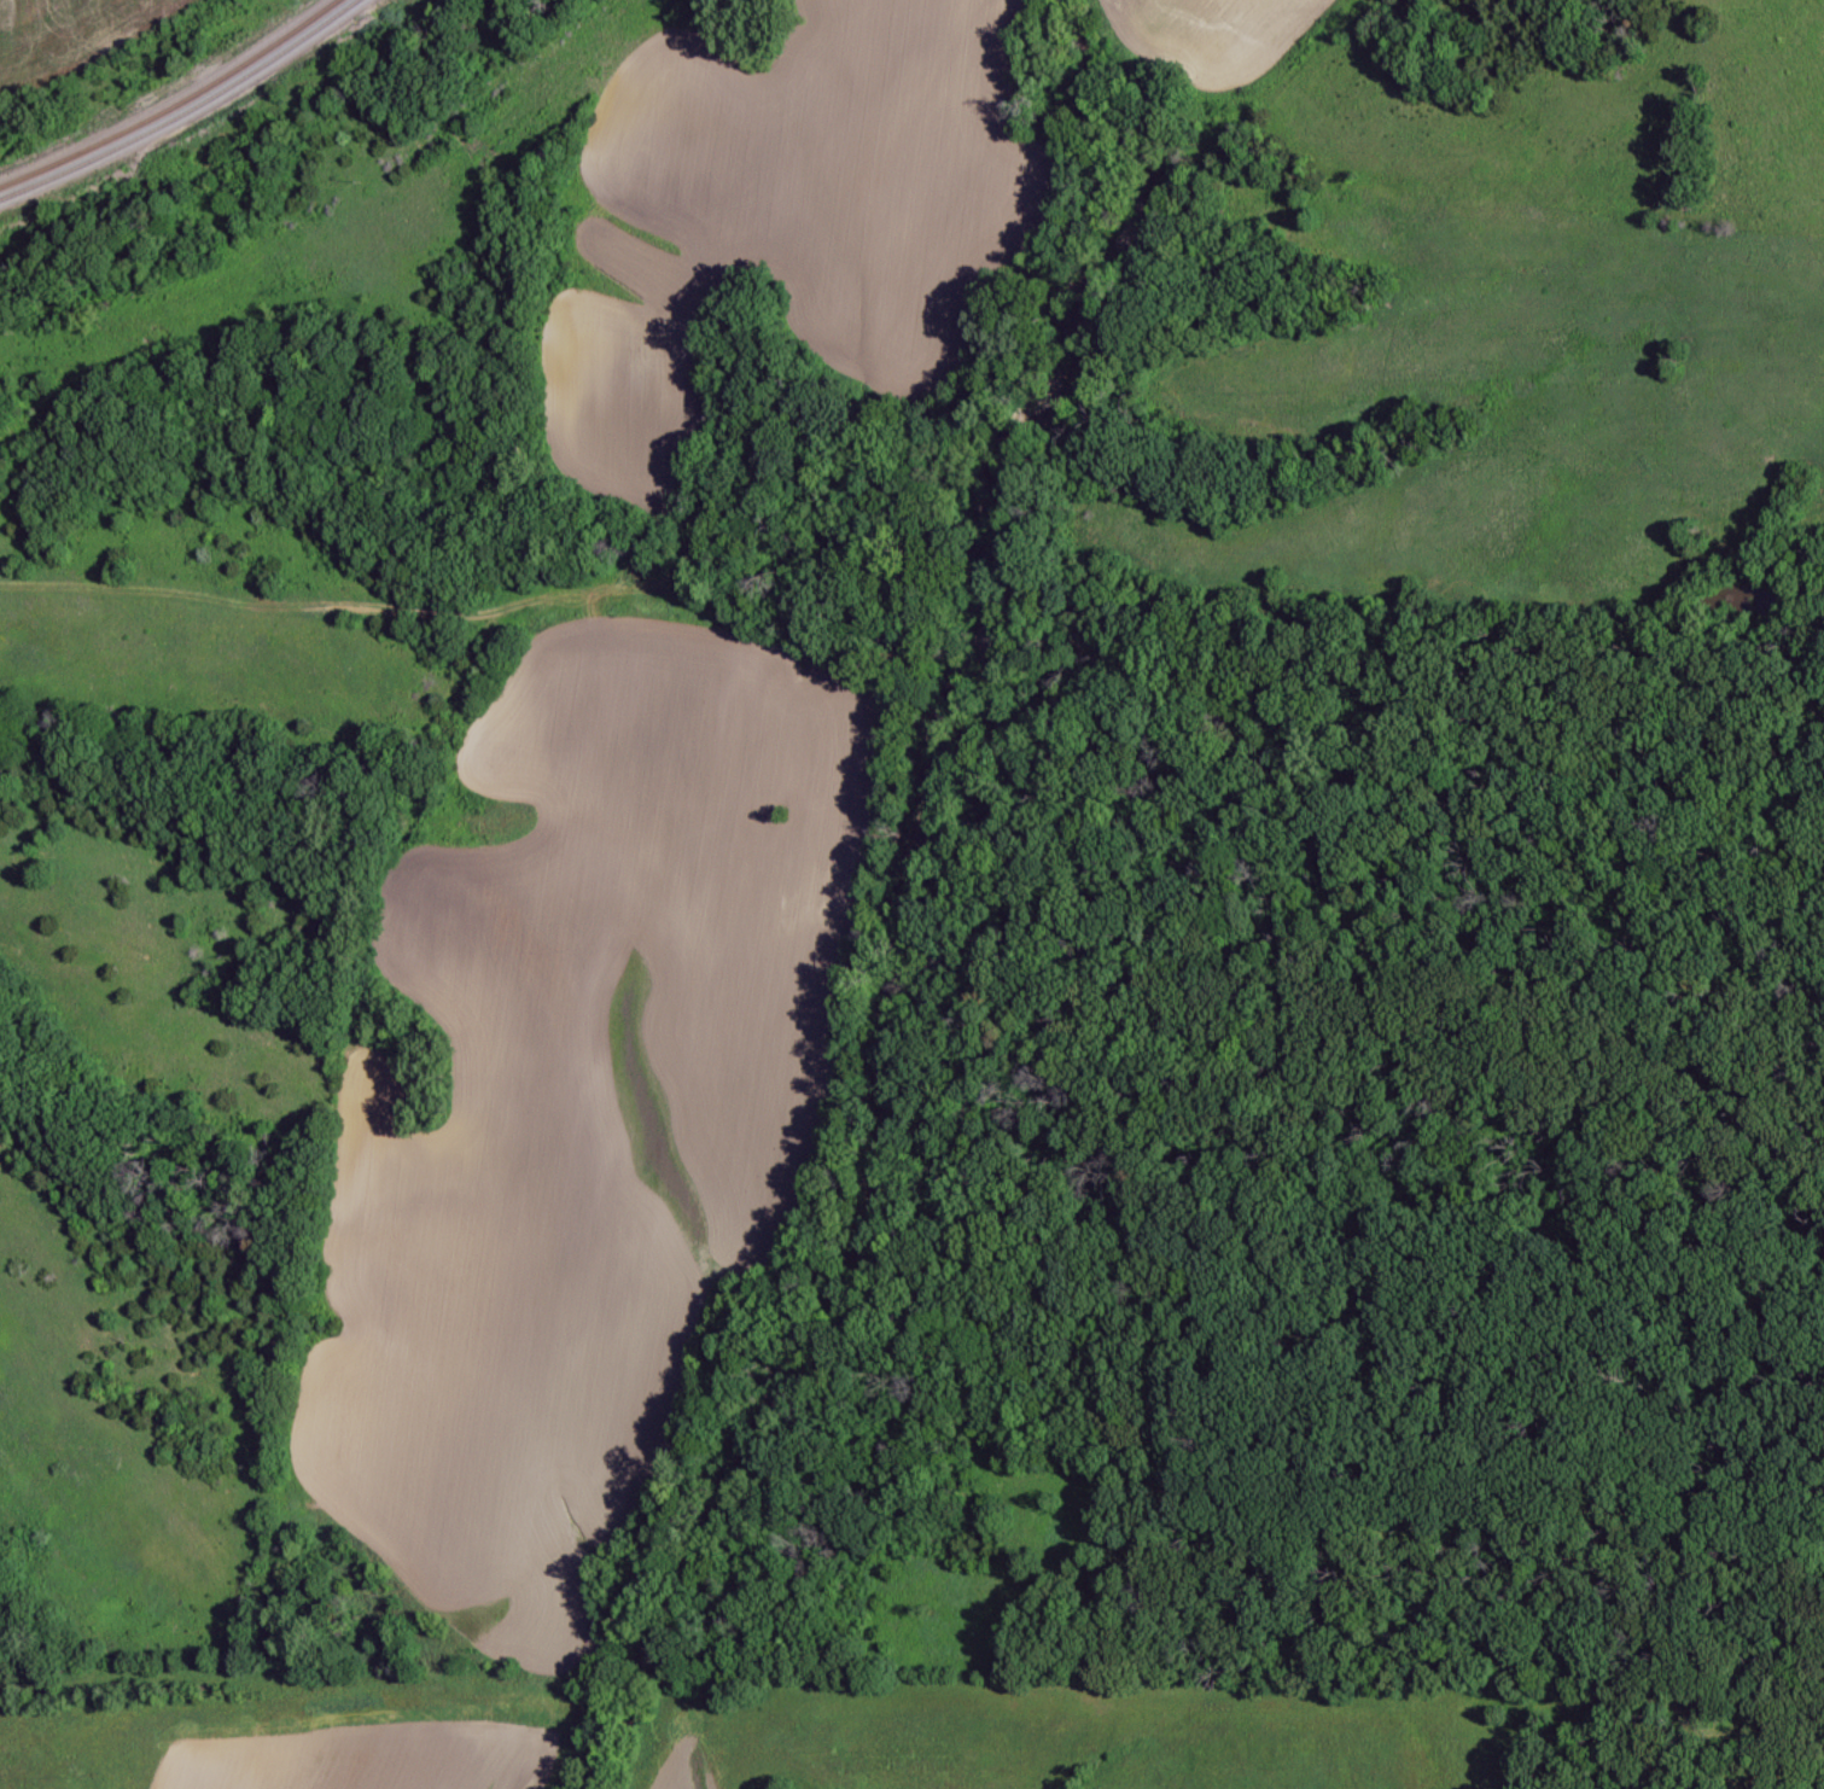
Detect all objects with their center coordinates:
railway: (176, 105)
railway: (188, 112)

